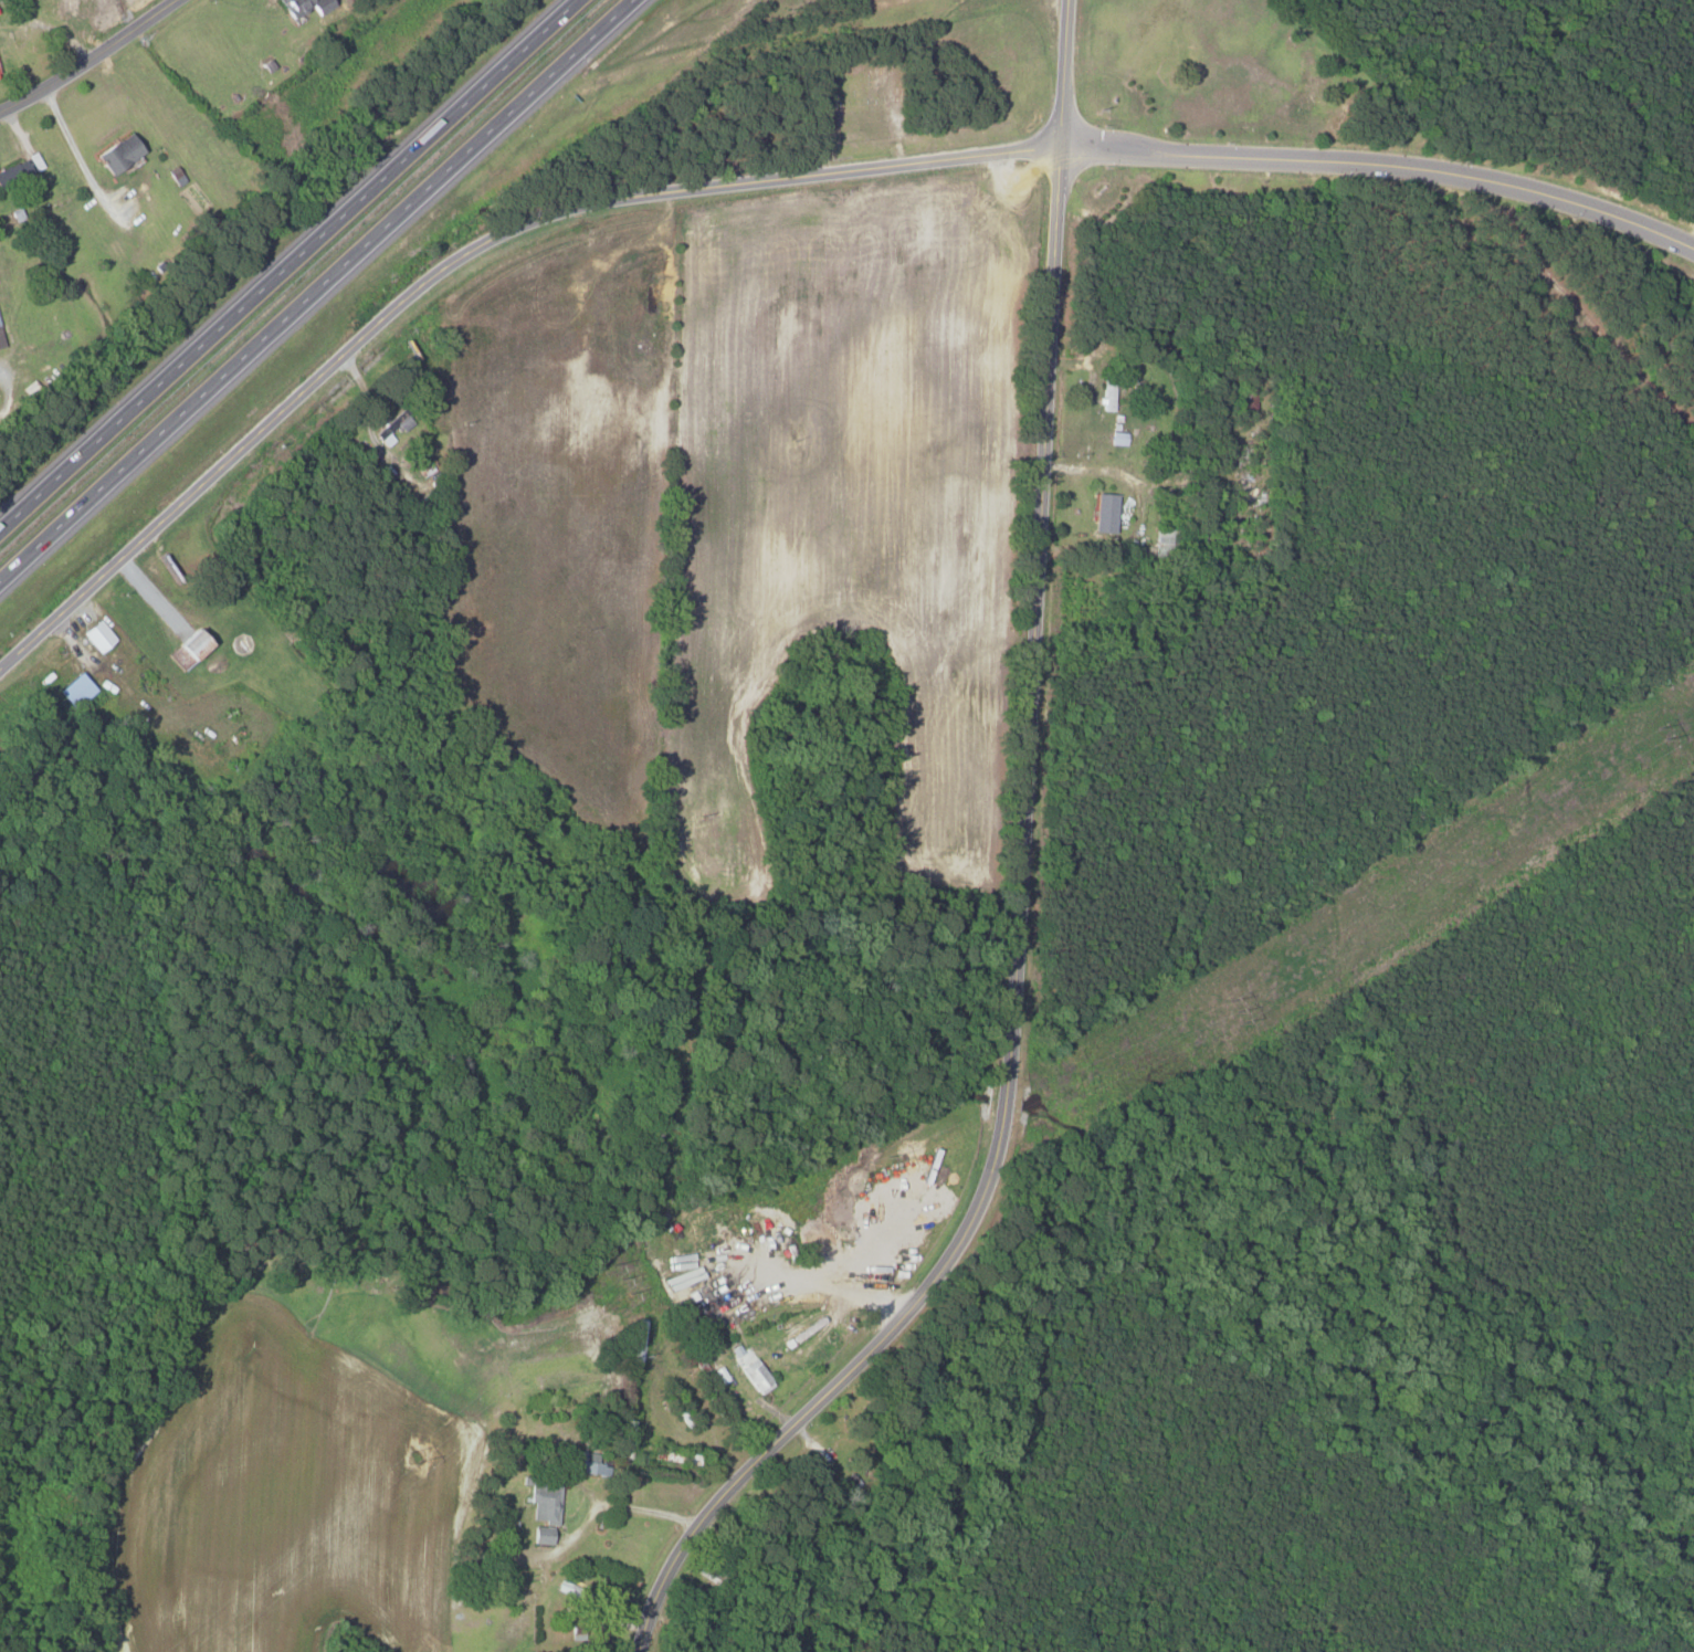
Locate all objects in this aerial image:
building: (302, 6)
road: (88, 59)
road: (1063, 71)
road: (1130, 139)
building: (116, 151)
road: (1128, 157)
building: (14, 170)
road: (1452, 175)
road: (459, 257)
road: (293, 265)
road: (320, 294)
building: (0, 343)
building: (1107, 397)
building: (1104, 513)
building: (96, 635)
building: (186, 650)
building: (75, 690)
power tower: (1664, 729)
road: (1016, 959)
power tower: (1233, 1007)
power tower: (886, 1158)
power tower: (613, 1276)
building: (755, 1377)
power tower: (414, 1456)
building: (583, 1463)
building: (544, 1502)
road: (627, 1507)
building: (539, 1534)

